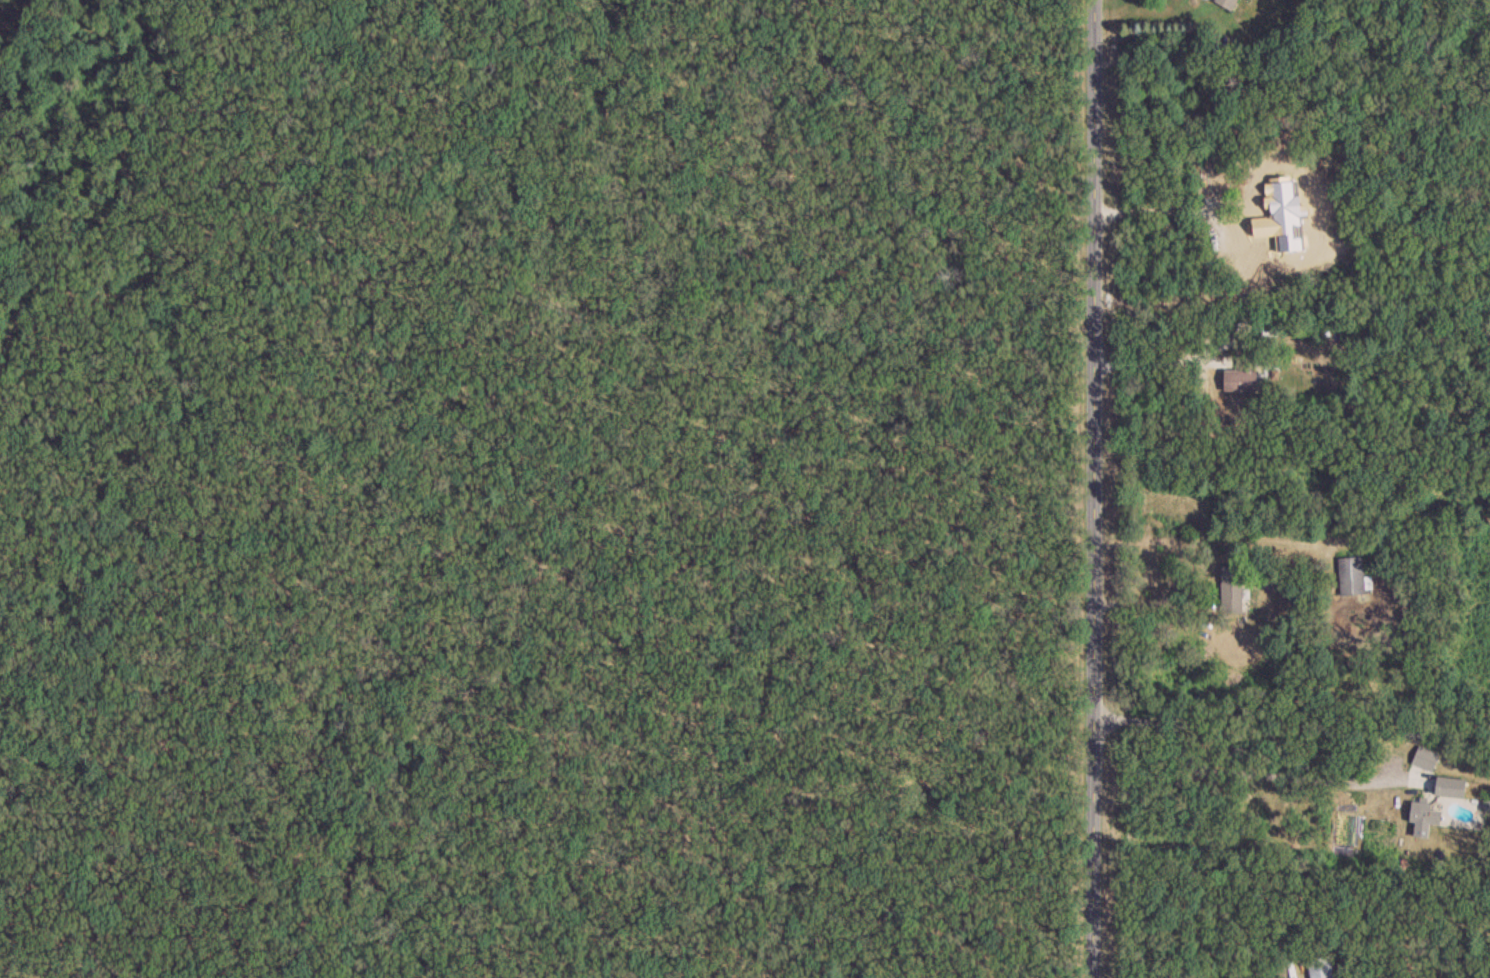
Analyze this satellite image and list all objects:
building: (1233, 3)
building: (1262, 208)
road: (1162, 359)
building: (1244, 375)
road: (1095, 489)
road: (1203, 539)
building: (1353, 577)
building: (1232, 589)
road: (1151, 600)
building: (1427, 759)
road: (1234, 770)
building: (1452, 785)
building: (1425, 819)
building: (1321, 968)

